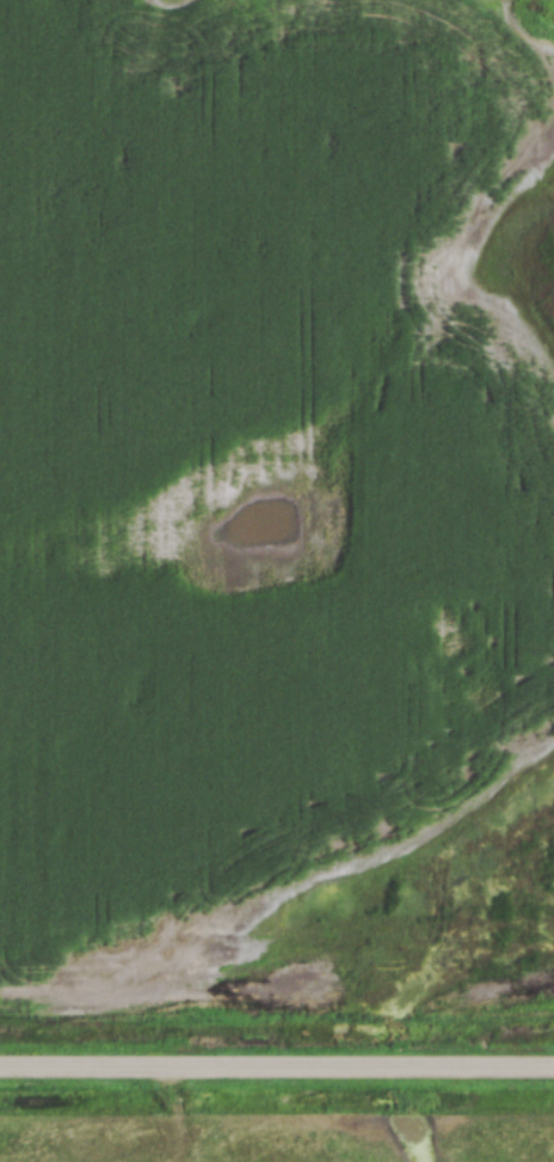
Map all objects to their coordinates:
road: (277, 1066)

